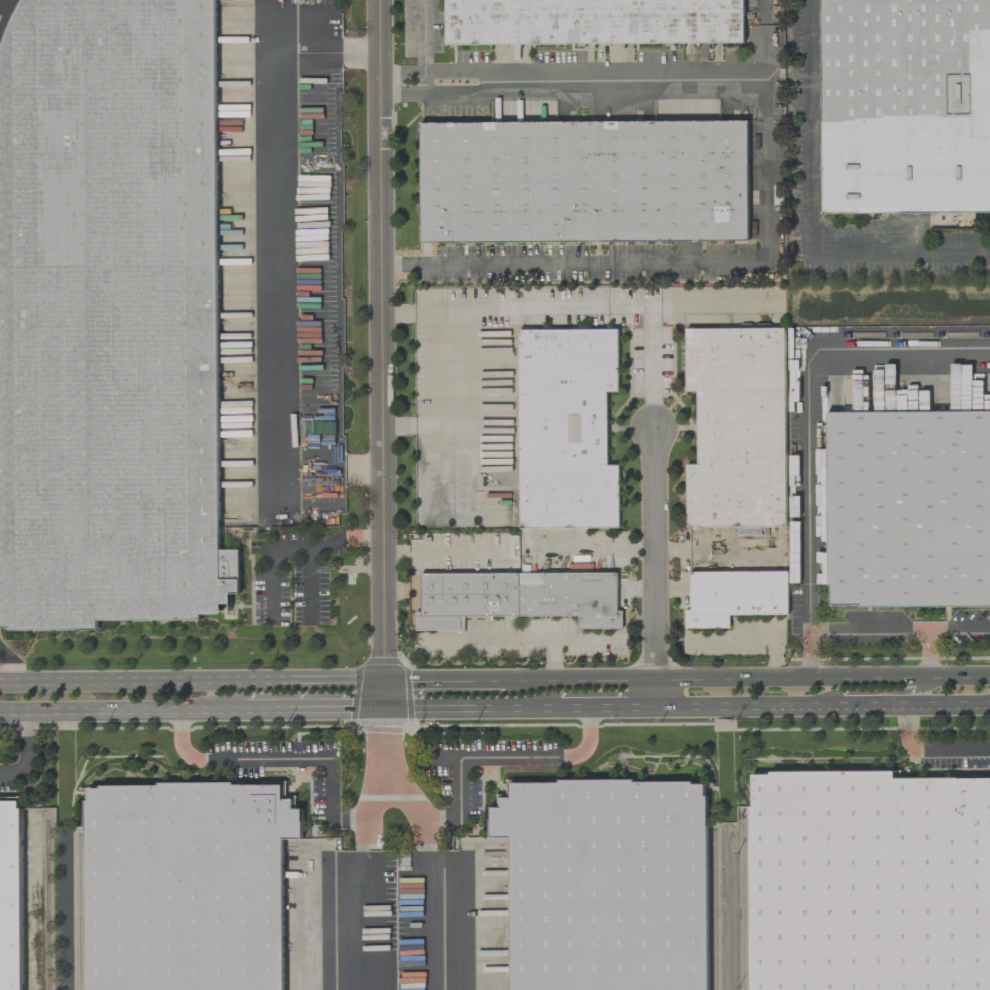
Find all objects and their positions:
railway: (7, 17)
building: (593, 22)
road: (425, 35)
road: (605, 71)
building: (905, 106)
road: (770, 177)
building: (584, 181)
road: (813, 204)
road: (277, 225)
road: (439, 313)
building: (109, 316)
road: (463, 338)
road: (652, 347)
road: (383, 357)
road: (813, 408)
building: (737, 427)
building: (566, 428)
road: (332, 467)
building: (908, 509)
road: (292, 550)
road: (440, 553)
road: (654, 554)
building: (715, 567)
road: (308, 586)
building: (734, 596)
building: (518, 598)
road: (960, 629)
road: (871, 631)
road: (524, 638)
road: (754, 638)
road: (930, 654)
road: (813, 655)
road: (555, 660)
road: (822, 679)
road: (604, 681)
road: (445, 682)
road: (529, 682)
road: (193, 683)
traffic signals: (387, 683)
road: (875, 693)
road: (655, 697)
road: (822, 711)
road: (621, 713)
road: (476, 714)
road: (575, 714)
road: (316, 715)
traffic signals: (388, 715)
road: (121, 716)
road: (23, 746)
road: (932, 748)
road: (470, 759)
road: (331, 768)
road: (7, 774)
building: (869, 882)
building: (606, 884)
building: (186, 886)
building: (11, 895)
road: (424, 904)
railway: (46, 905)
road: (361, 905)
railway: (743, 905)
railway: (713, 909)
railway: (81, 912)

